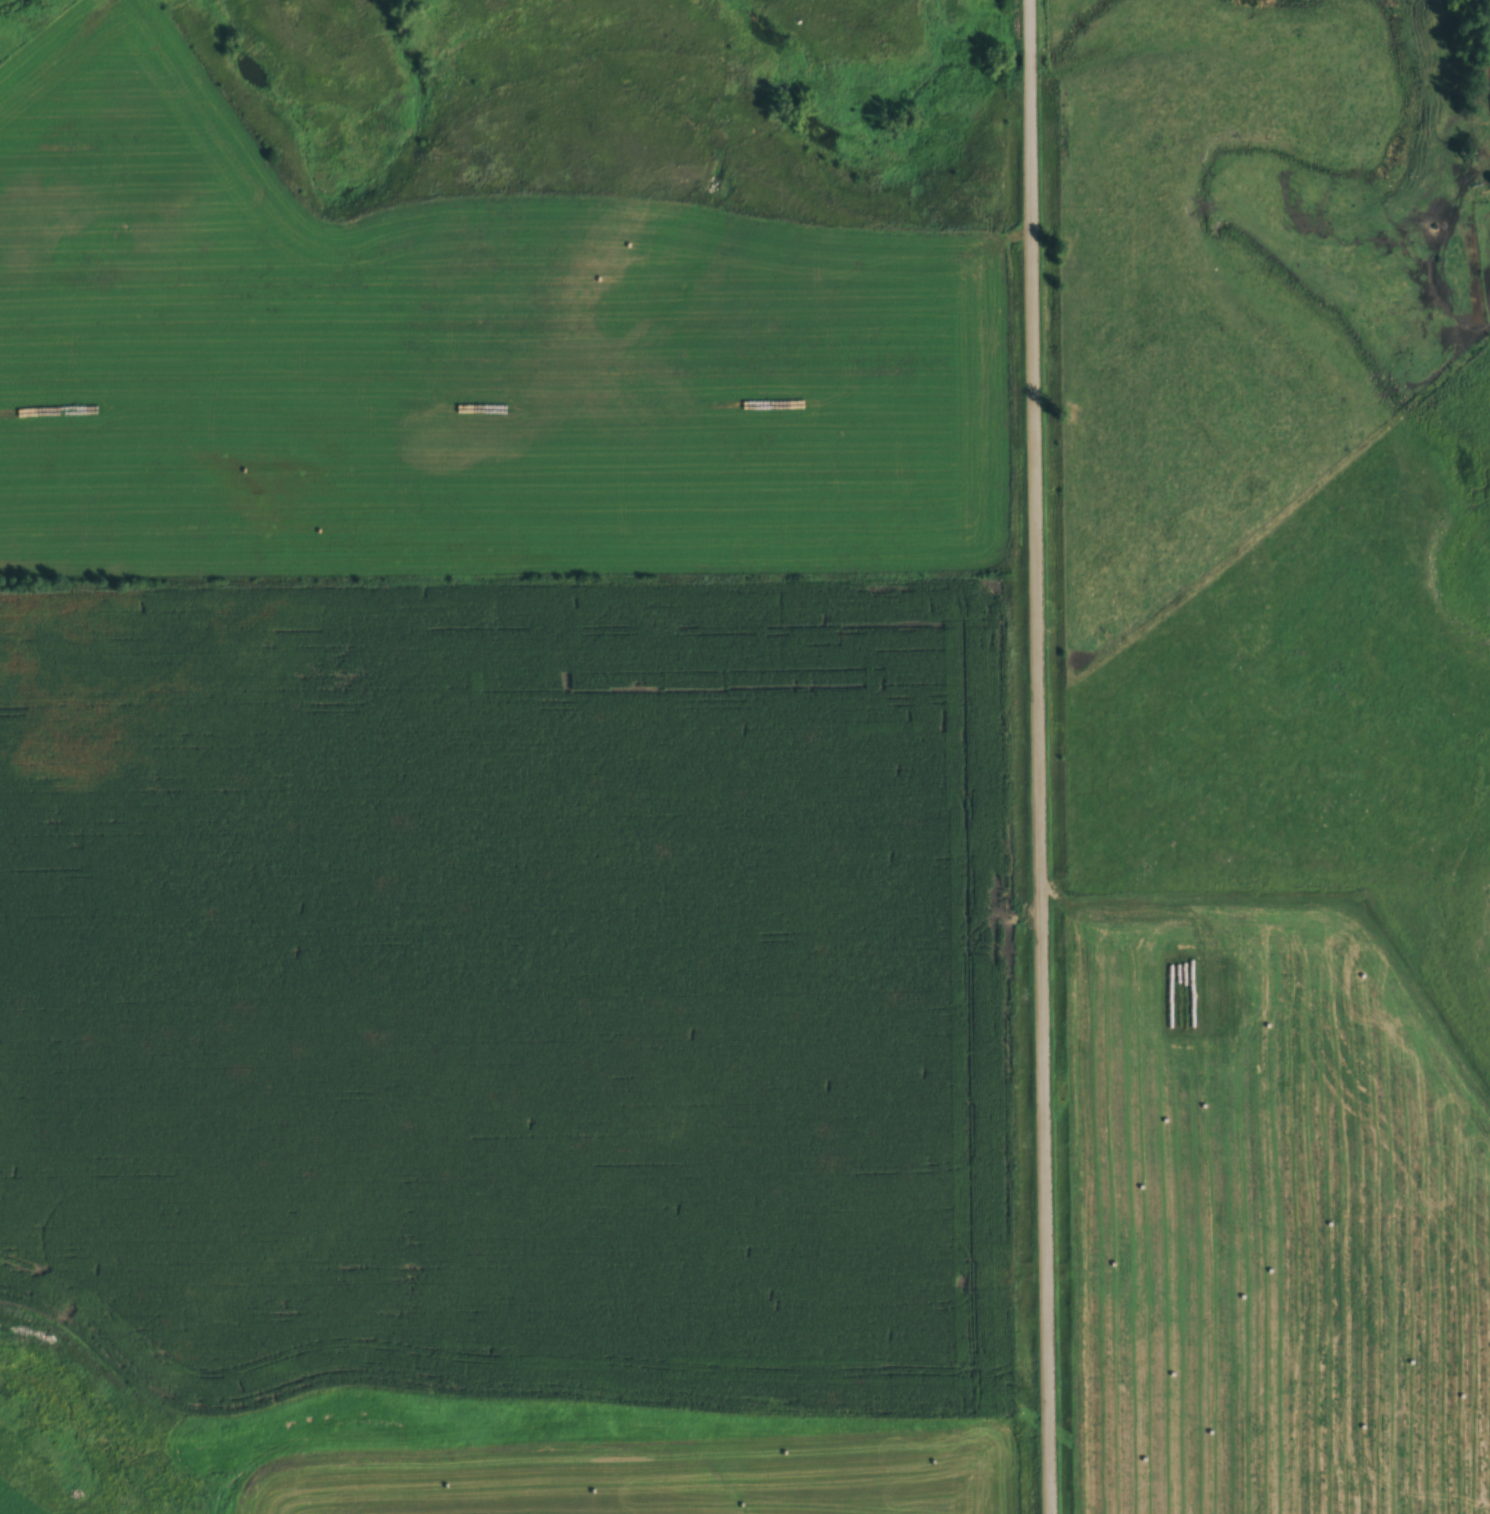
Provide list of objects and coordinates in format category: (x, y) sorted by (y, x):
road: (1041, 757)

